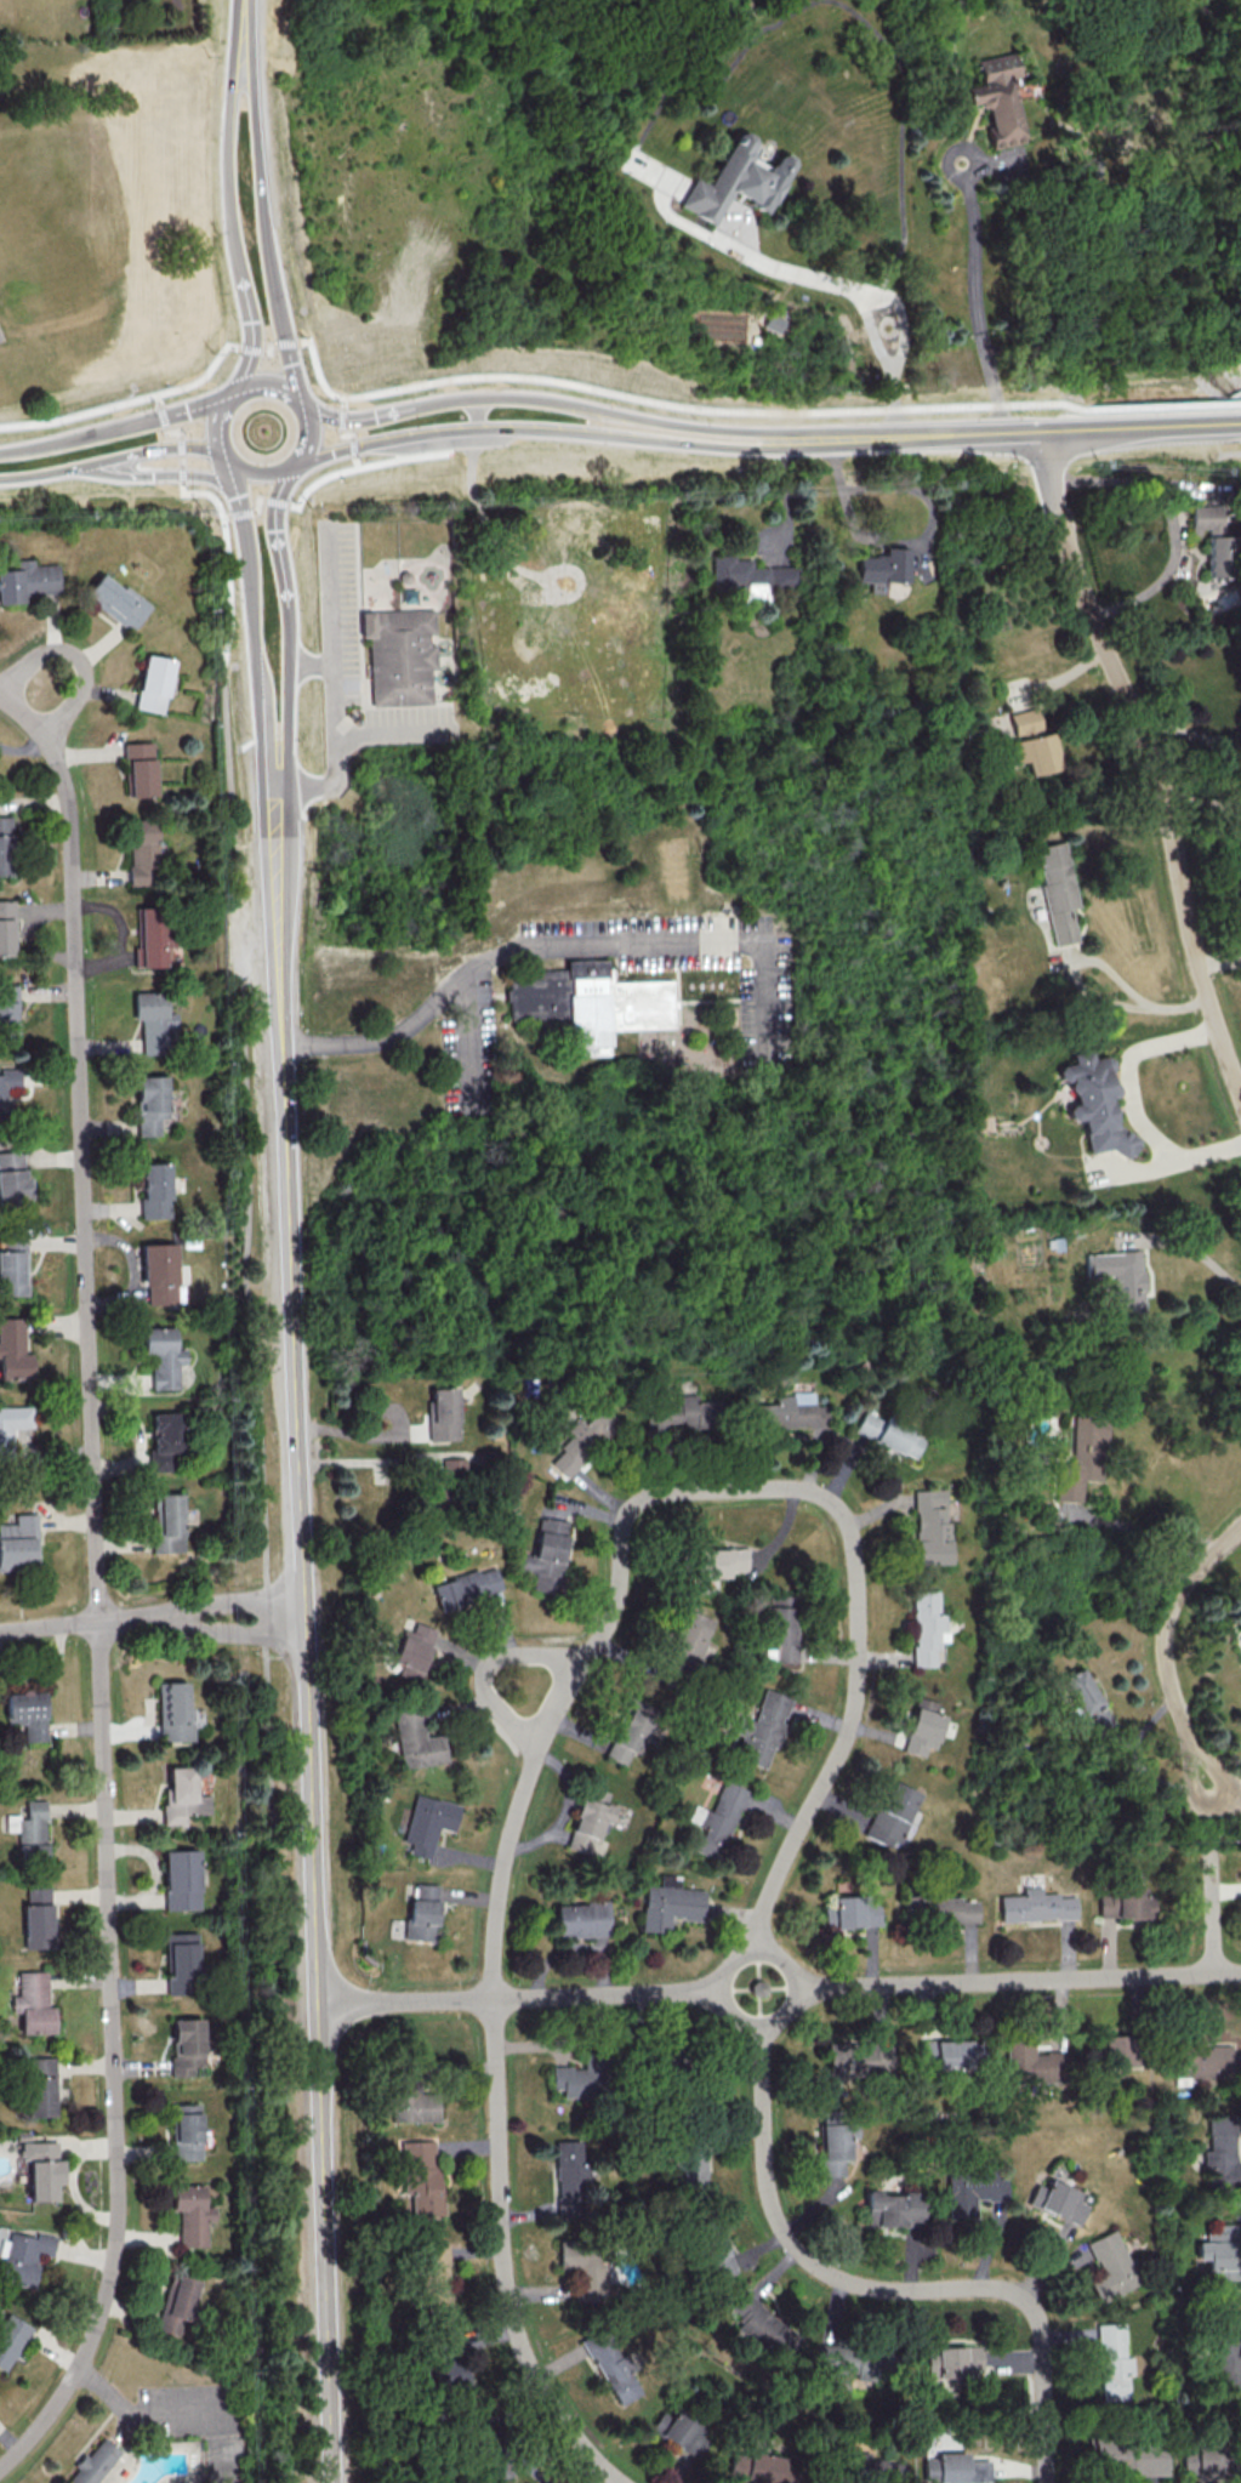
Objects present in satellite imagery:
road: (244, 22)
building: (996, 97)
road: (228, 158)
building: (736, 181)
road: (262, 223)
road: (865, 295)
road: (975, 302)
road: (247, 311)
parking lot: (0, 338)
road: (285, 342)
road: (269, 347)
road: (251, 348)
road: (243, 370)
road: (268, 385)
river: (1236, 395)
road: (465, 397)
road: (156, 399)
road: (129, 400)
road: (342, 402)
road: (672, 403)
road: (1165, 405)
road: (160, 415)
road: (358, 416)
road: (341, 417)
road: (650, 418)
road: (215, 423)
road: (1139, 426)
road: (114, 427)
road: (539, 428)
road: (171, 429)
road: (346, 433)
road: (938, 434)
road: (812, 437)
road: (306, 438)
road: (180, 445)
road: (352, 445)
road: (143, 449)
road: (222, 456)
road: (181, 460)
road: (355, 461)
road: (359, 466)
road: (35, 473)
road: (155, 473)
road: (181, 473)
road: (258, 477)
road: (233, 486)
road: (274, 501)
road: (255, 503)
road: (240, 513)
road: (224, 516)
building: (1200, 517)
road: (1169, 518)
road: (274, 536)
road: (906, 539)
road: (503, 556)
building: (1214, 556)
building: (882, 568)
building: (746, 575)
building: (28, 581)
road: (250, 599)
building: (116, 600)
parking lot: (341, 609)
road: (73, 653)
building: (400, 664)
building: (153, 683)
road: (286, 696)
road: (13, 706)
road: (334, 731)
road: (1188, 733)
road: (264, 736)
building: (1030, 742)
road: (1154, 758)
building: (140, 768)
road: (1201, 799)
building: (6, 845)
building: (143, 852)
road: (277, 864)
building: (1058, 889)
building: (6, 927)
building: (152, 938)
road: (560, 947)
parking lot: (694, 956)
road: (1219, 957)
road: (1092, 959)
building: (591, 1004)
building: (8, 1012)
road: (471, 1016)
building: (154, 1020)
parking lot: (476, 1043)
building: (7, 1082)
road: (1132, 1101)
building: (150, 1103)
building: (1095, 1103)
building: (13, 1177)
building: (155, 1190)
road: (245, 1202)
road: (1192, 1248)
building: (13, 1265)
building: (159, 1271)
building: (1120, 1277)
building: (13, 1349)
building: (164, 1356)
building: (789, 1412)
building: (678, 1413)
building: (443, 1414)
building: (12, 1425)
building: (888, 1433)
road: (387, 1434)
building: (582, 1440)
building: (165, 1441)
building: (1082, 1457)
building: (454, 1467)
building: (169, 1524)
building: (930, 1526)
road: (1143, 1527)
building: (18, 1542)
building: (547, 1555)
building: (718, 1561)
building: (466, 1587)
road: (220, 1600)
road: (98, 1605)
road: (69, 1624)
building: (926, 1627)
road: (222, 1628)
building: (688, 1641)
building: (412, 1651)
road: (1163, 1655)
road: (485, 1665)
road: (46, 1673)
building: (1086, 1701)
building: (172, 1712)
building: (25, 1713)
road: (308, 1713)
building: (922, 1726)
building: (759, 1729)
building: (630, 1731)
building: (416, 1739)
road: (837, 1756)
building: (182, 1795)
road: (1226, 1798)
road: (1226, 1805)
road: (567, 1809)
building: (890, 1813)
building: (587, 1818)
building: (717, 1819)
building: (427, 1822)
road: (1218, 1826)
building: (29, 1829)
road: (503, 1869)
building: (180, 1879)
building: (1121, 1902)
building: (668, 1903)
building: (1035, 1906)
road: (1212, 1909)
building: (421, 1910)
building: (953, 1910)
building: (849, 1912)
building: (38, 1917)
building: (580, 1918)
building: (180, 1960)
road: (792, 1981)
road: (1017, 1981)
road: (520, 1998)
building: (33, 2003)
building: (186, 2045)
building: (1116, 2050)
building: (946, 2052)
building: (852, 2057)
building: (1200, 2061)
building: (1030, 2062)
building: (576, 2078)
building: (40, 2086)
building: (411, 2102)
building: (186, 2131)
building: (836, 2141)
building: (1220, 2149)
building: (41, 2168)
building: (690, 2170)
building: (421, 2176)
building: (571, 2179)
building: (972, 2191)
building: (1057, 2200)
building: (893, 2209)
building: (190, 2214)
building: (1222, 2251)
building: (713, 2255)
building: (22, 2256)
road: (1044, 2259)
building: (1110, 2266)
building: (585, 2268)
building: (436, 2279)
road: (884, 2288)
building: (176, 2305)
building: (763, 2327)
building: (10, 2337)
building: (1228, 2346)
building: (848, 2358)
building: (1112, 2362)
building: (952, 2364)
building: (611, 2365)
building: (448, 2373)
road: (119, 2392)
building: (682, 2431)
building: (1128, 2456)
building: (1200, 2460)
building: (93, 2462)
building: (761, 2467)
building: (875, 2468)
building: (955, 2468)
road: (613, 2482)

